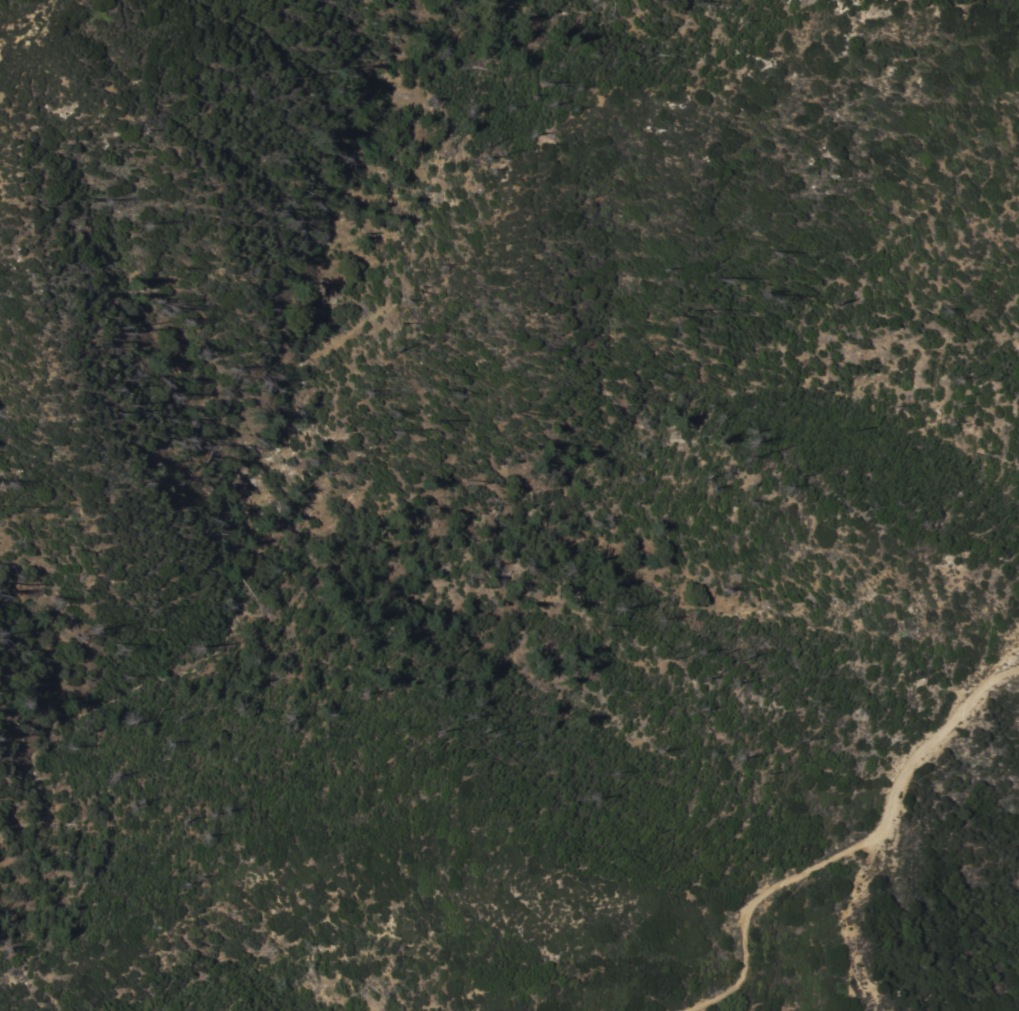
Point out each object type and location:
road: (852, 848)

